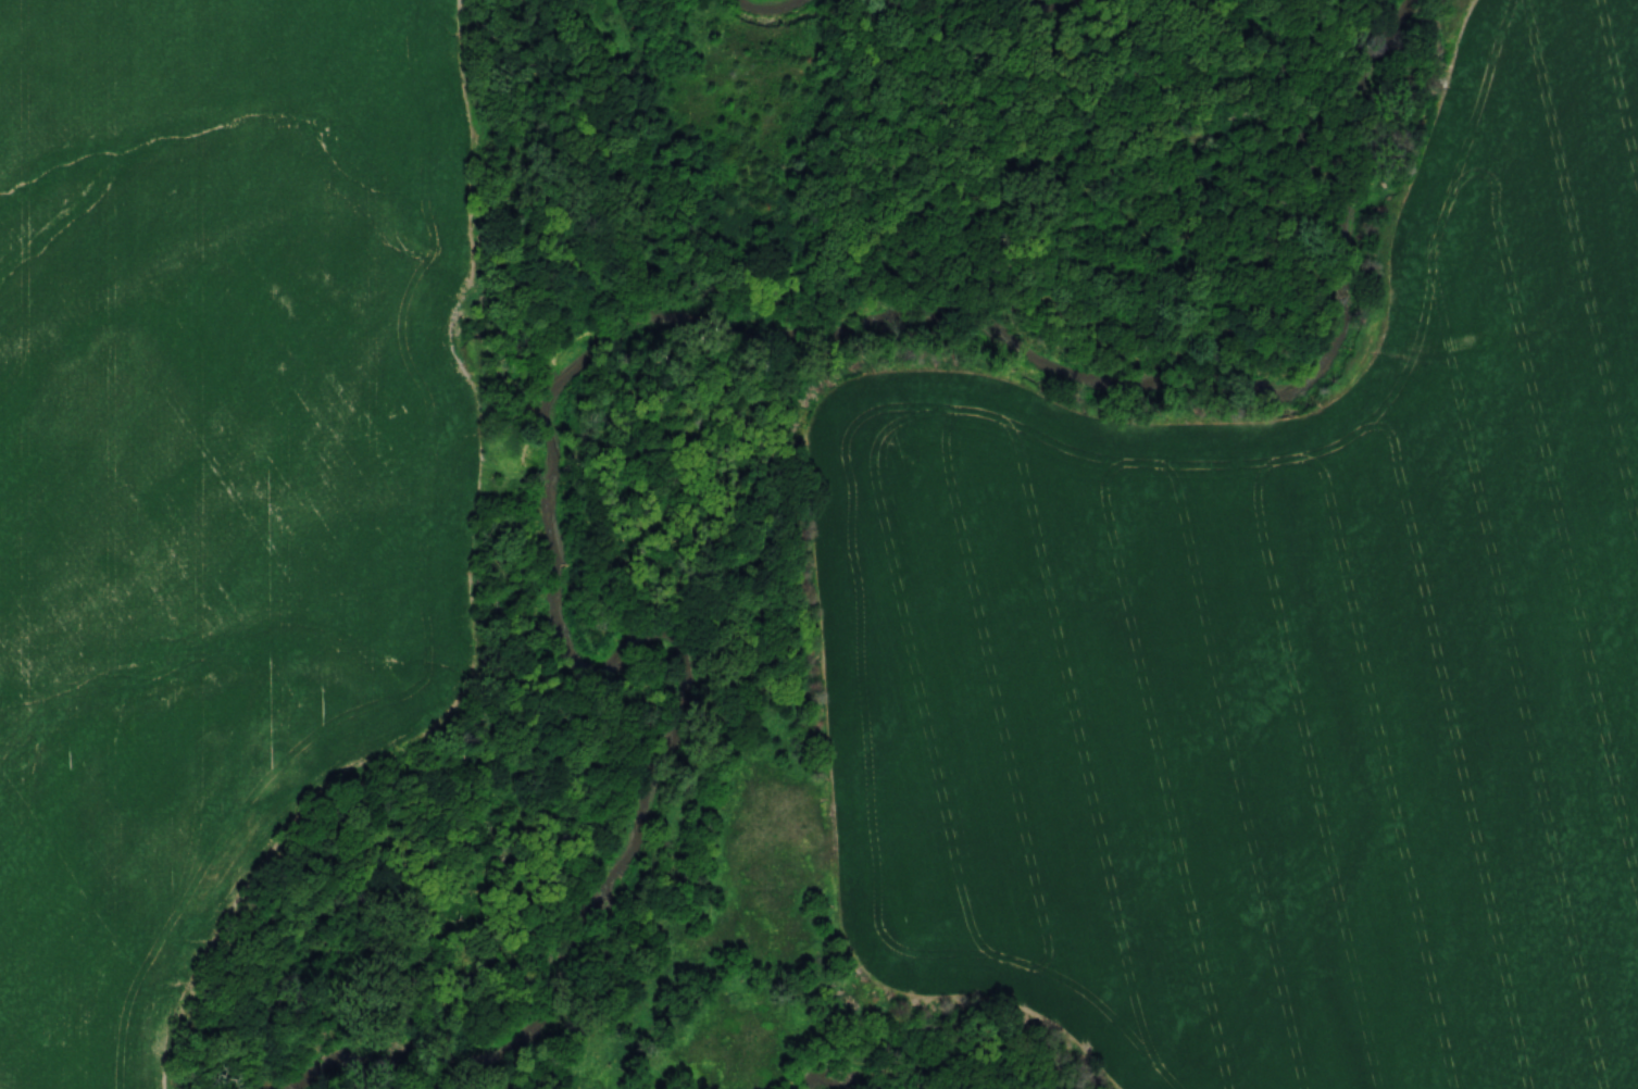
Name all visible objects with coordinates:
river: (1033, 3)
river: (789, 9)
river: (570, 350)

